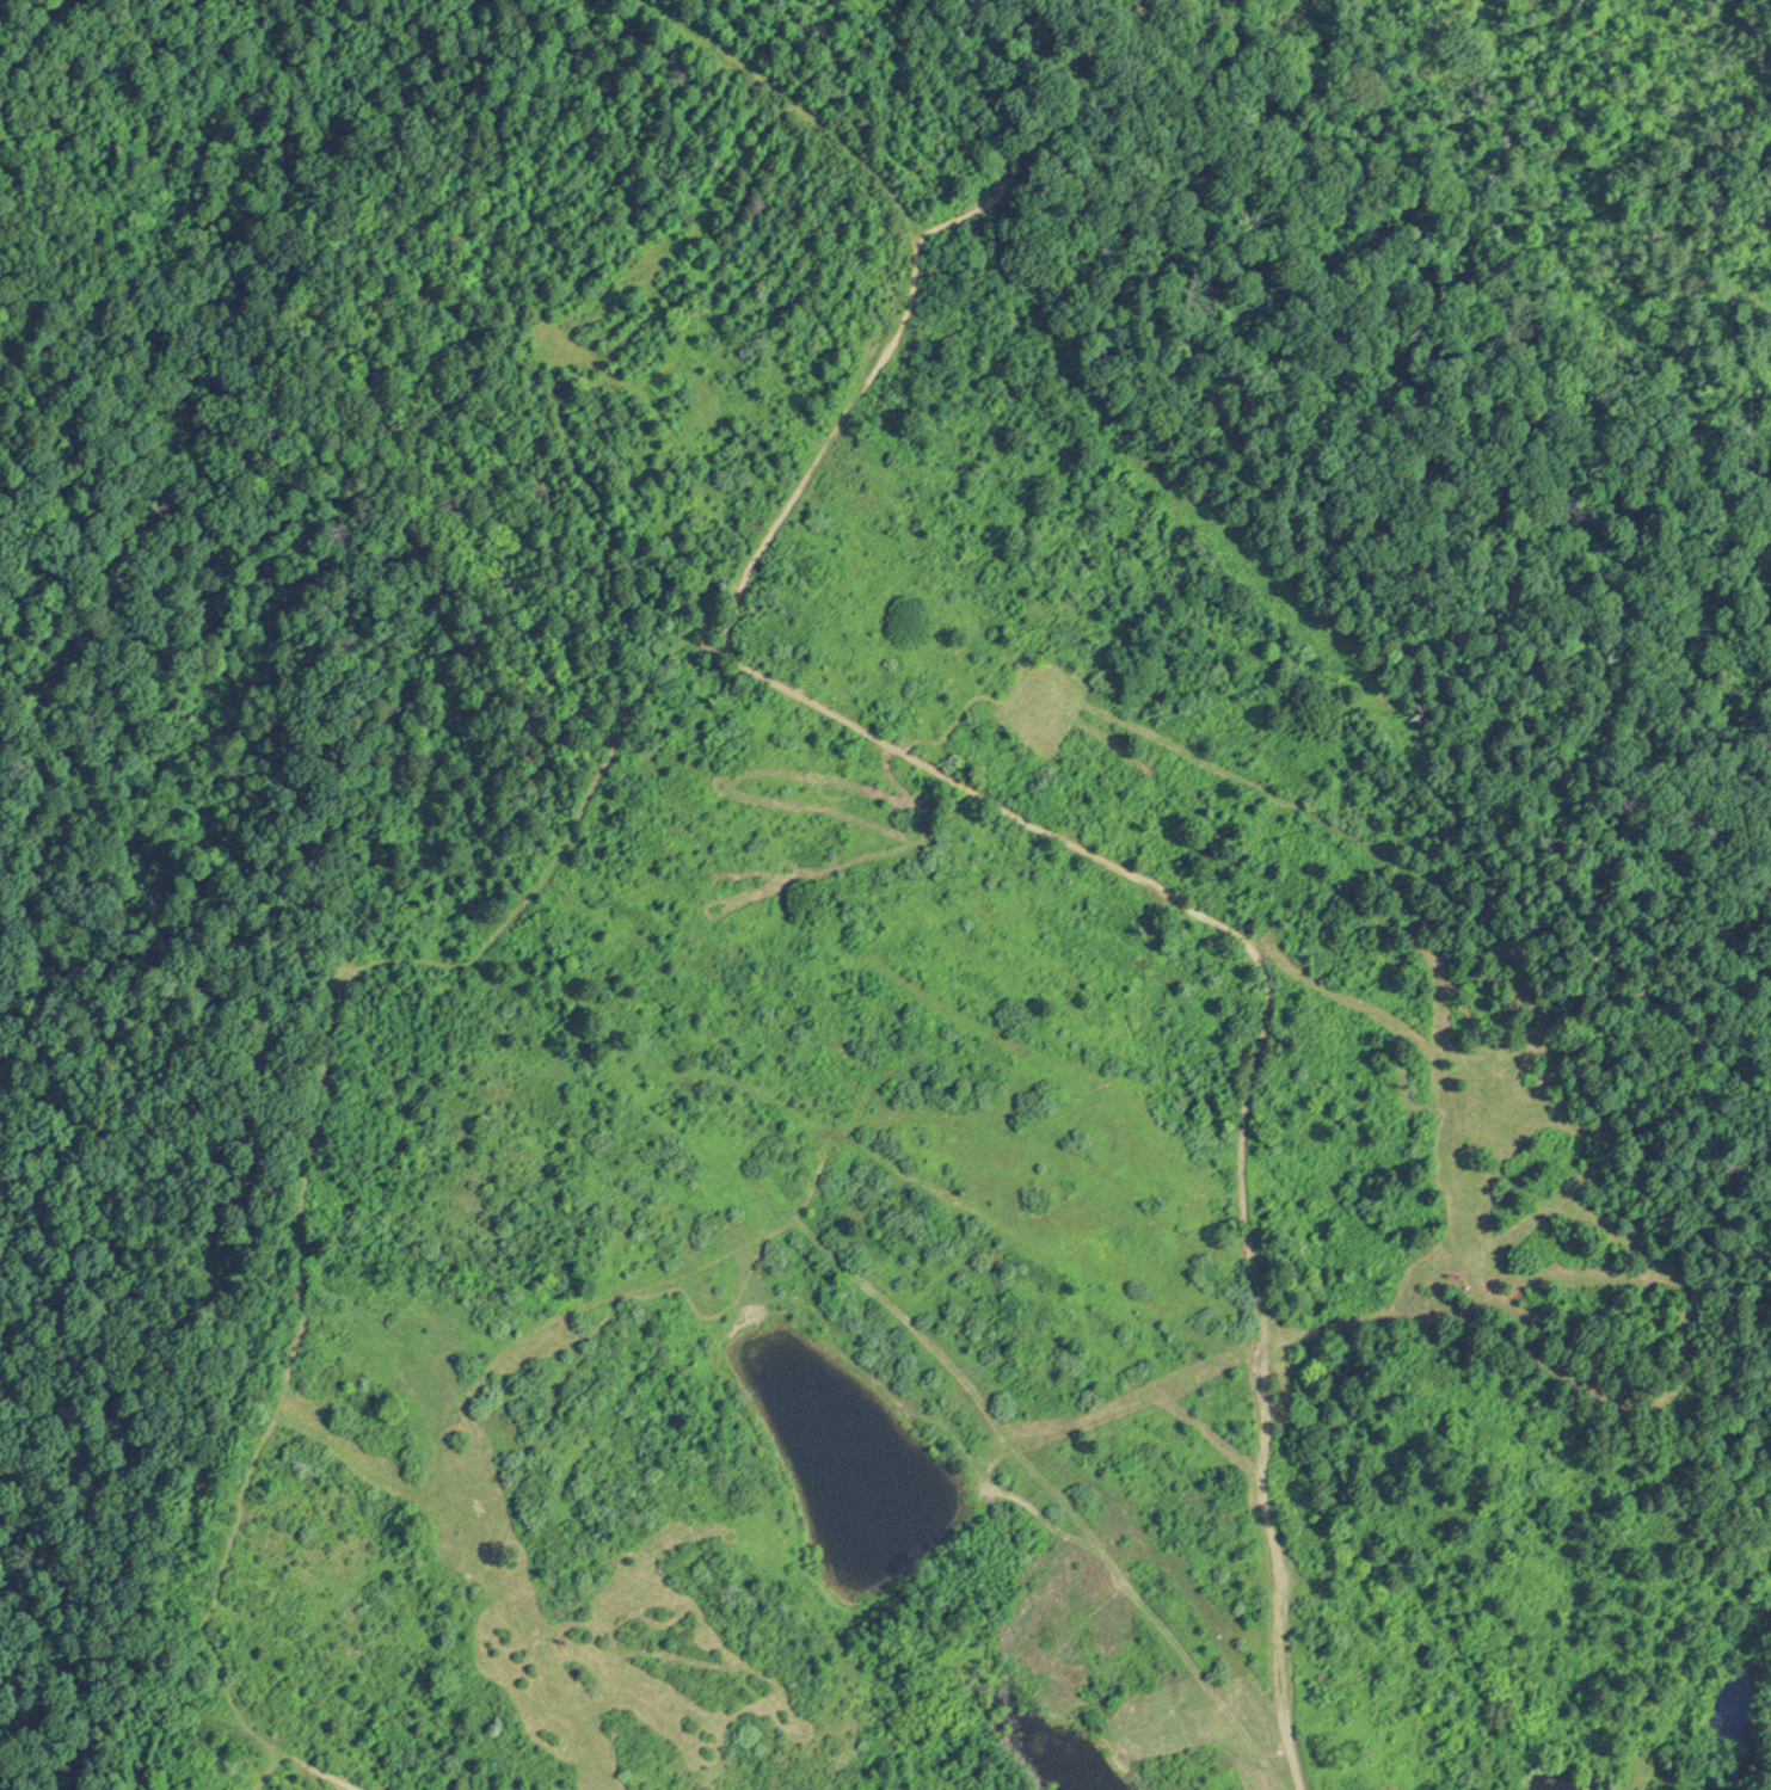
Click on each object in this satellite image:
road: (916, 269)
road: (1259, 1054)
road: (312, 1148)

